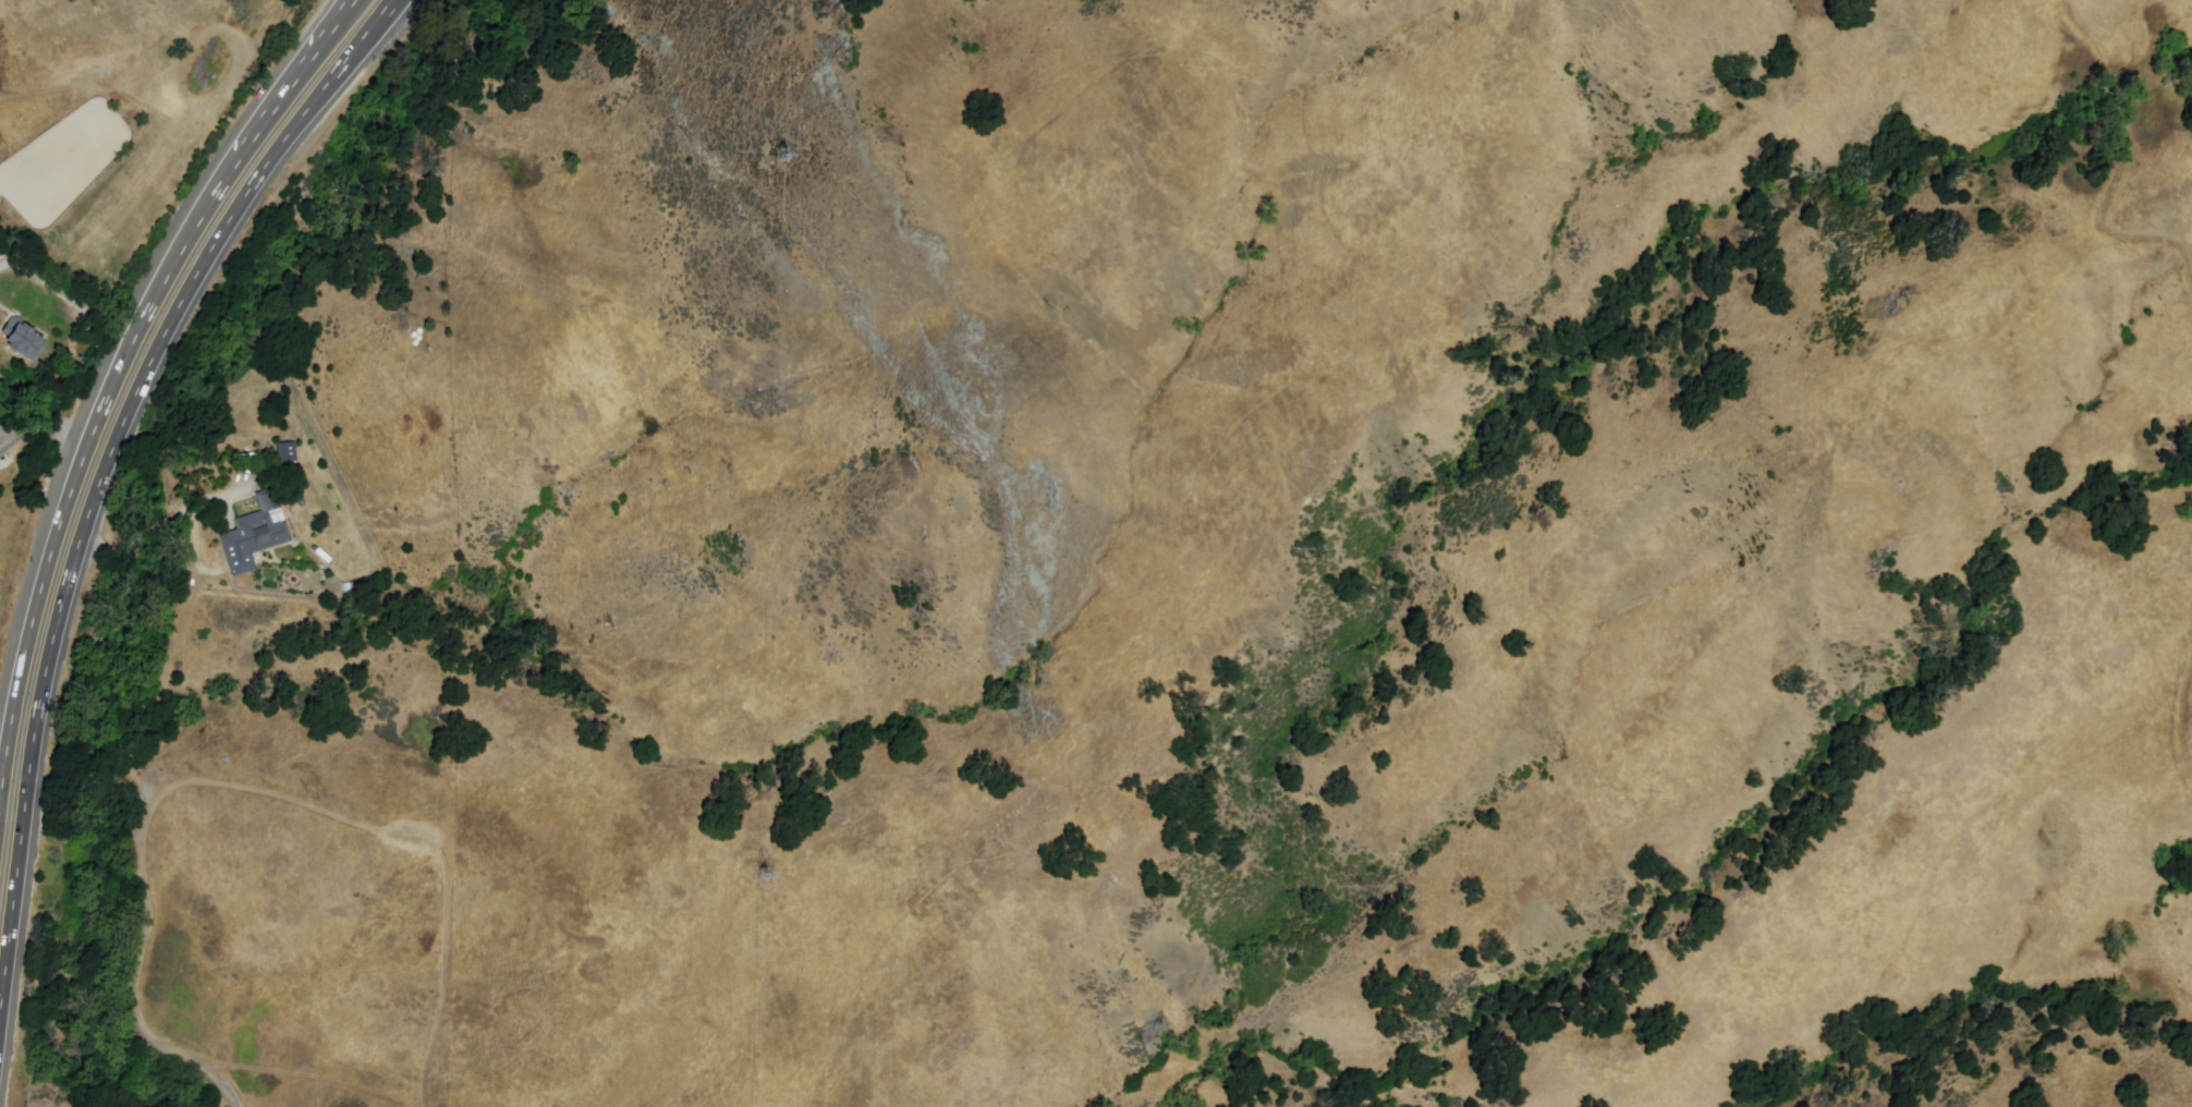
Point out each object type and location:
road: (389, 11)
road: (290, 75)
road: (2122, 158)
power tower: (790, 174)
building: (4, 250)
building: (27, 342)
road: (47, 433)
road: (5, 436)
road: (81, 476)
road: (100, 484)
building: (255, 536)
road: (2180, 710)
power tower: (775, 857)

